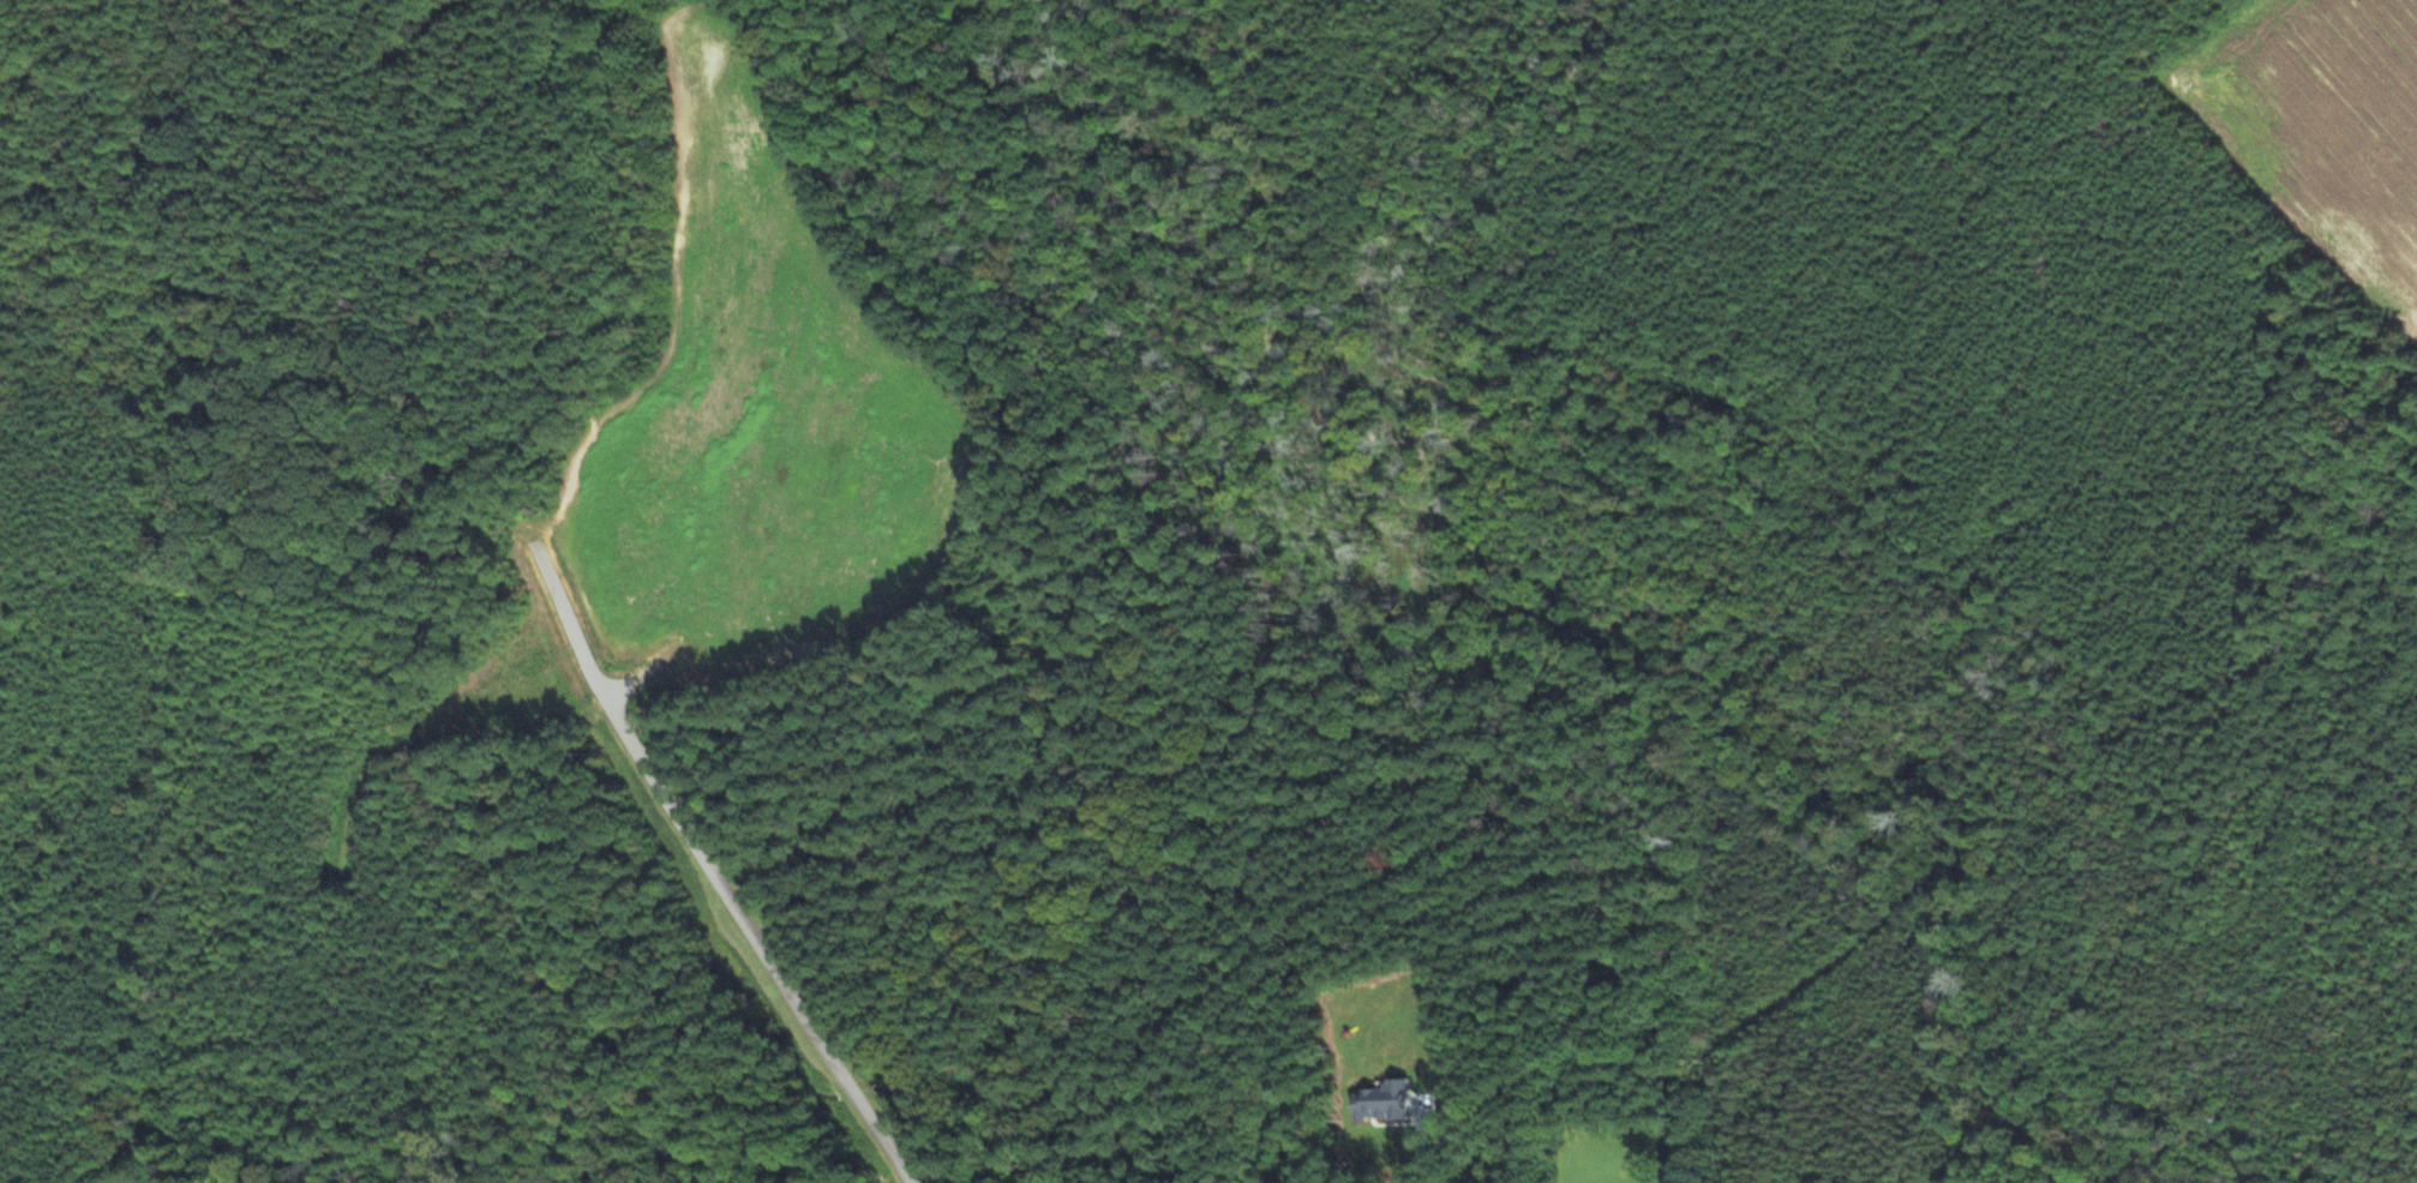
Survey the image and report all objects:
road: (701, 872)
building: (1392, 1107)

